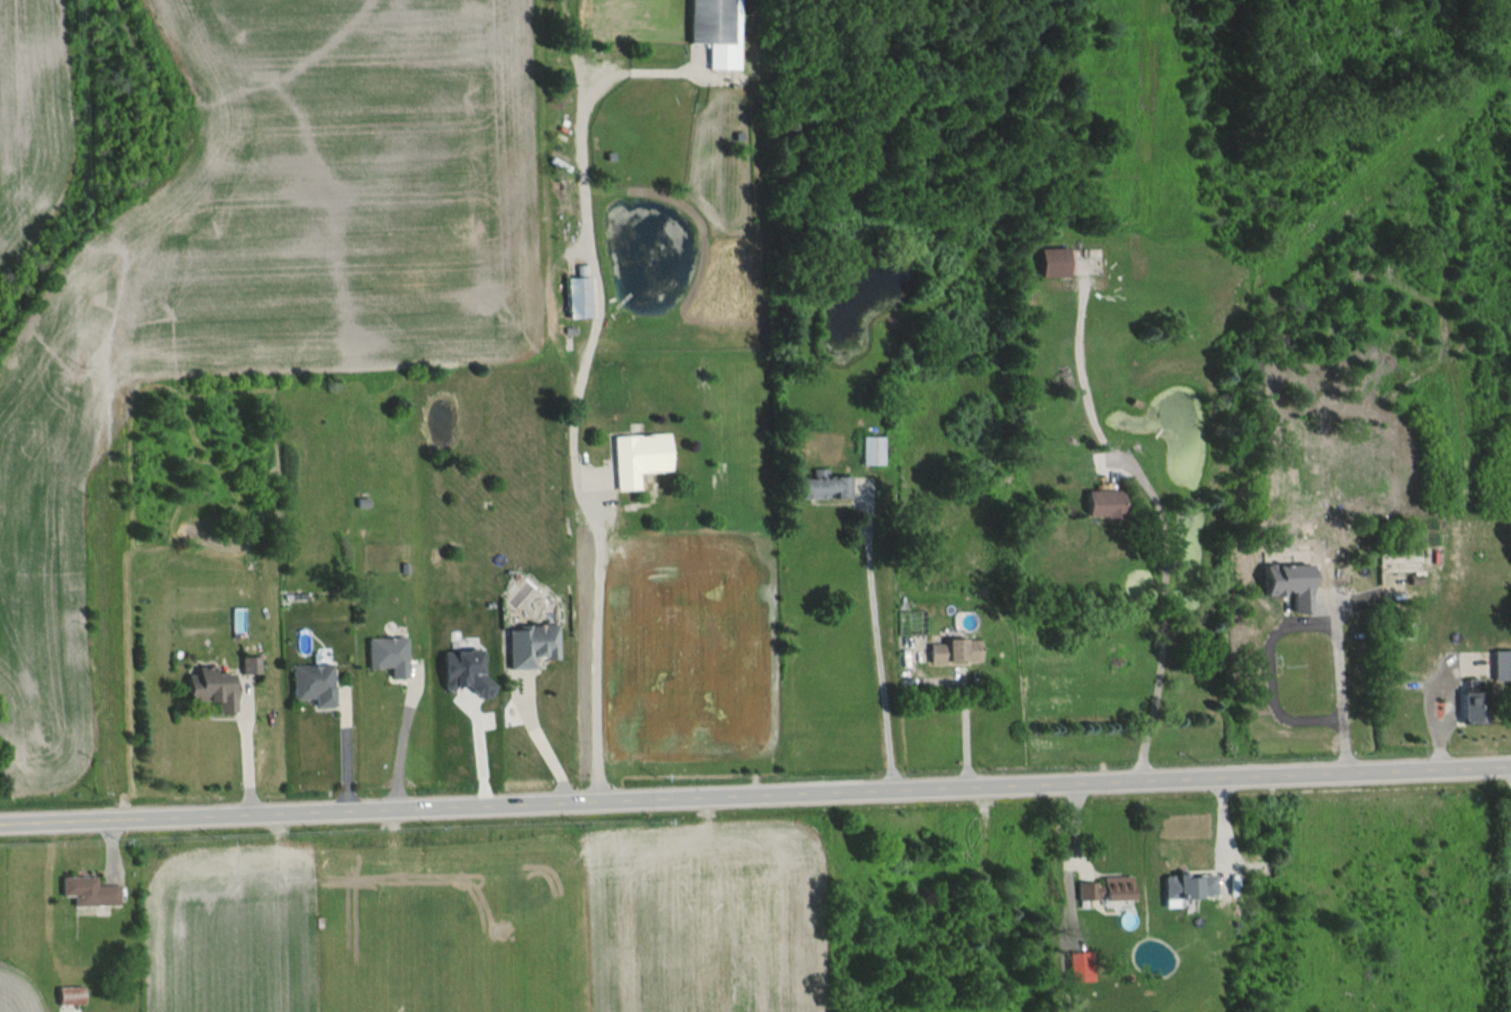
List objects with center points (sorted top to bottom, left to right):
building: (716, 31)
crop: (30, 114)
building: (1054, 262)
crop: (268, 273)
building: (578, 294)
road: (572, 436)
building: (872, 449)
building: (639, 458)
building: (824, 486)
building: (1105, 503)
road: (1157, 509)
building: (1290, 584)
building: (540, 642)
building: (1473, 643)
crop: (691, 647)
building: (955, 651)
building: (388, 656)
road: (876, 662)
building: (314, 684)
building: (213, 689)
road: (1333, 690)
building: (1466, 706)
road: (963, 716)
road: (545, 746)
road: (397, 749)
road: (244, 754)
road: (344, 756)
road: (755, 796)
road: (1219, 834)
building: (1184, 886)
building: (1103, 889)
building: (89, 891)
crop: (707, 920)
crop: (233, 931)
crop: (18, 991)

